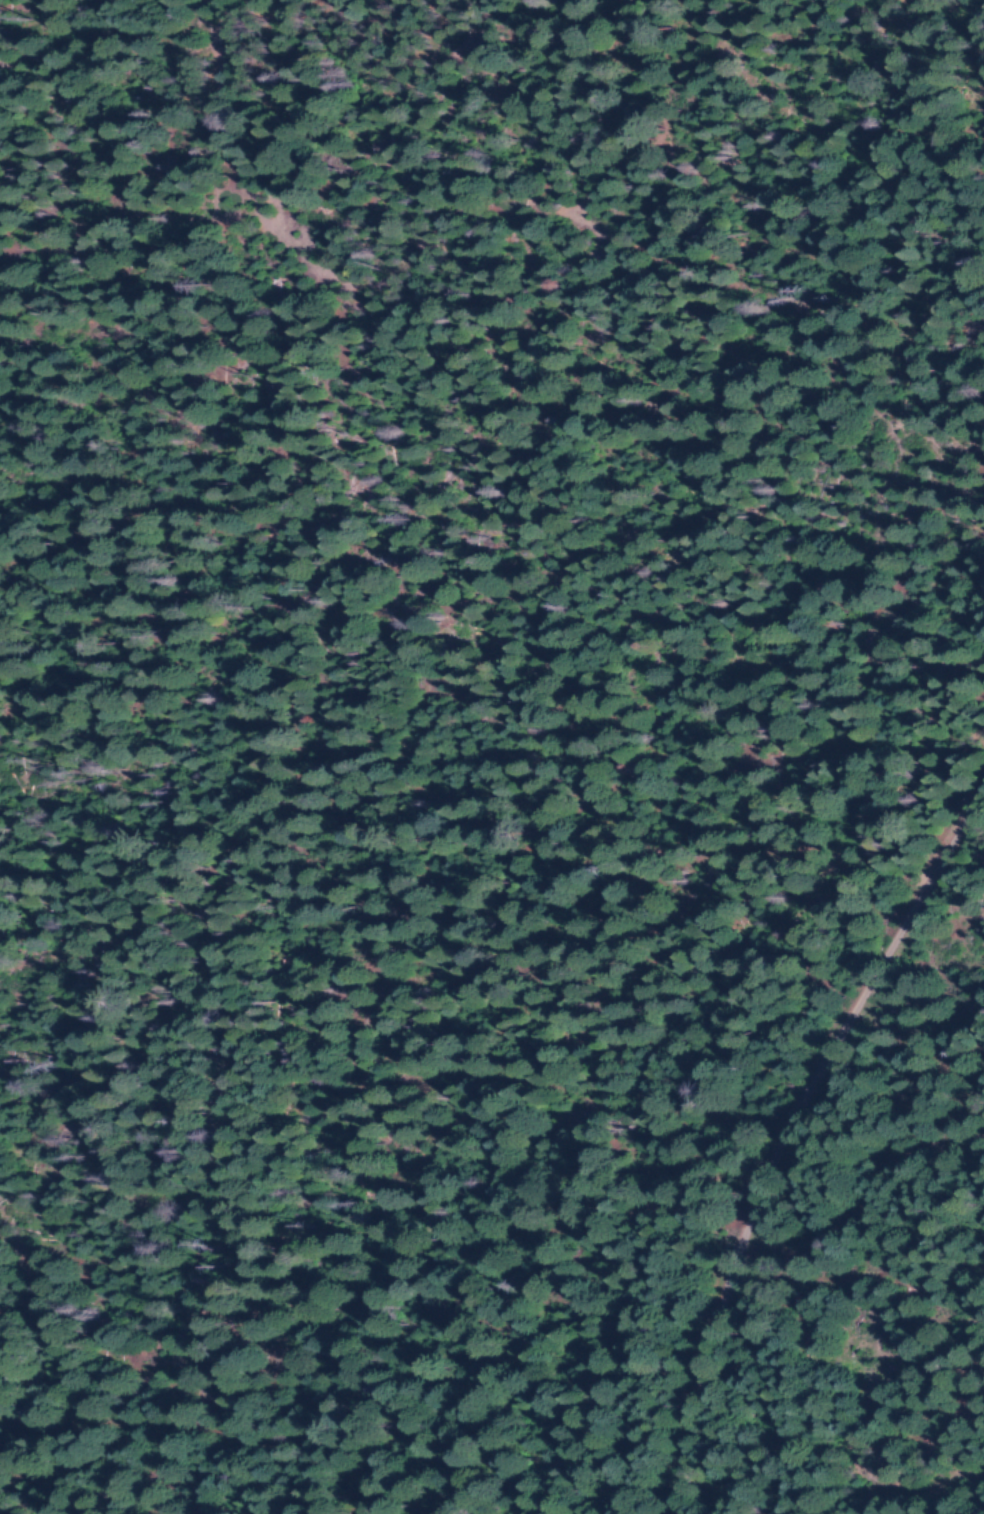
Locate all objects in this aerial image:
road: (788, 1131)

